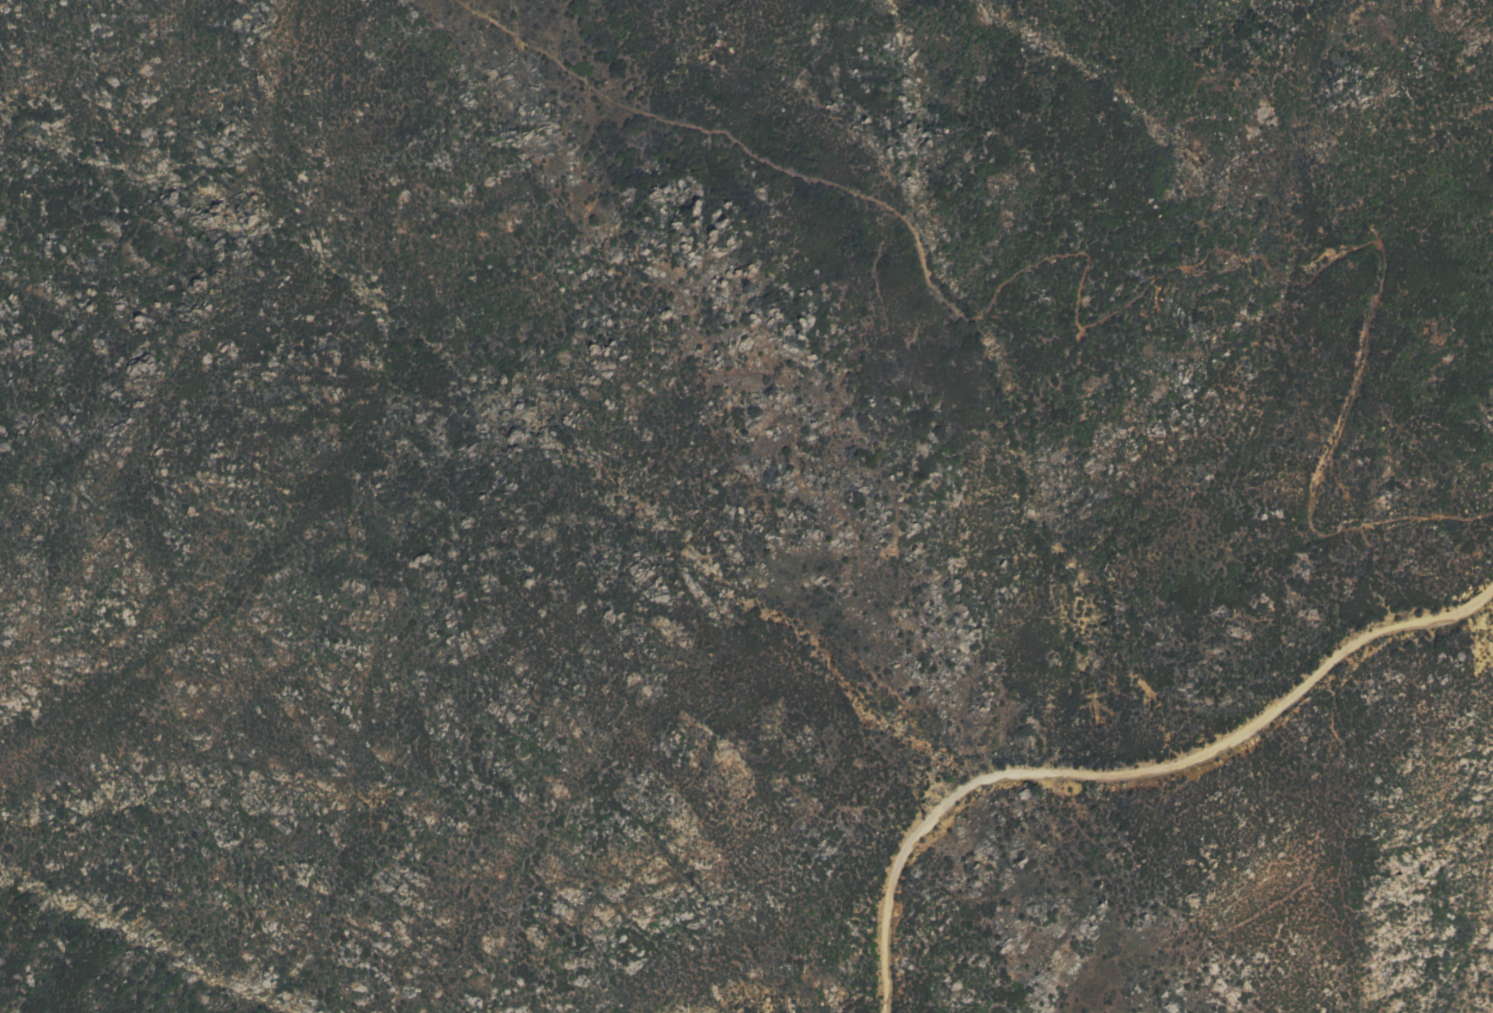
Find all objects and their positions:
road: (1045, 267)
road: (1397, 515)
road: (1124, 771)

